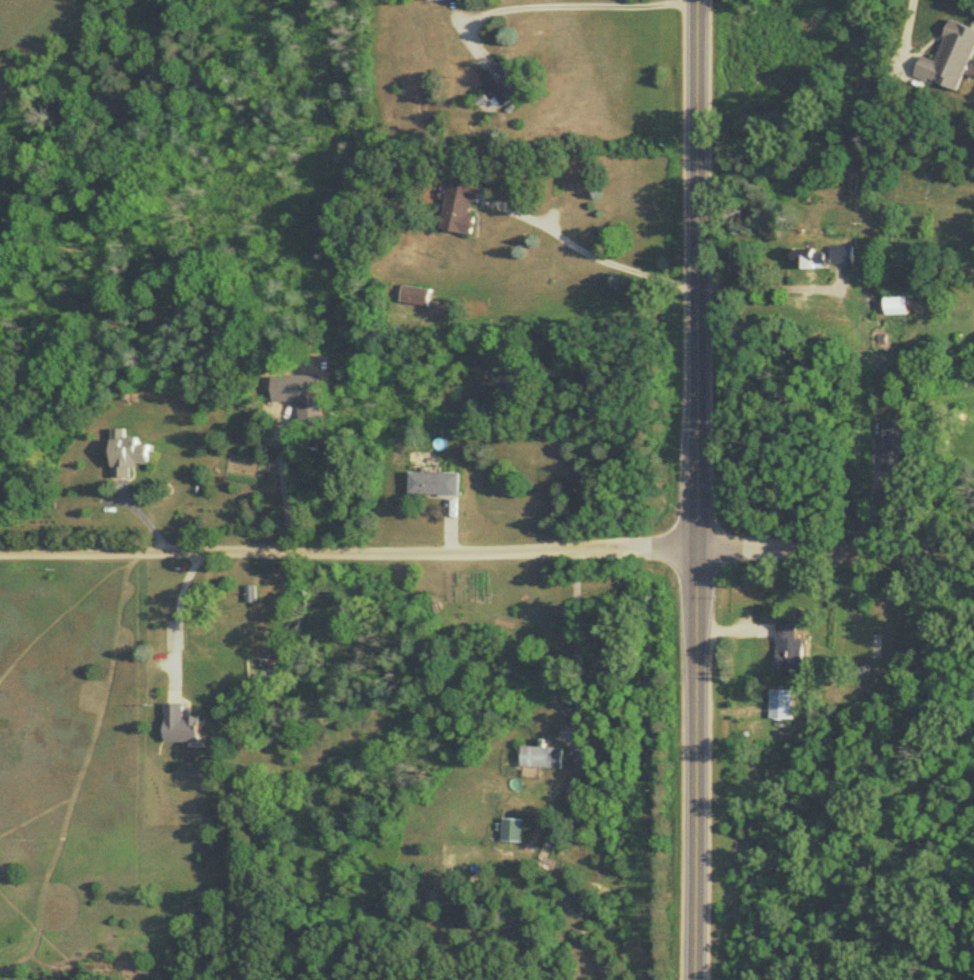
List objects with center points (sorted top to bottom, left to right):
road: (571, 6)
road: (904, 34)
building: (949, 58)
building: (504, 84)
building: (463, 206)
road: (594, 255)
building: (825, 258)
road: (696, 273)
road: (773, 287)
building: (415, 295)
building: (896, 303)
building: (893, 444)
building: (127, 454)
road: (278, 479)
building: (436, 484)
road: (835, 551)
road: (348, 553)
building: (251, 594)
road: (168, 609)
road: (576, 637)
building: (790, 649)
building: (781, 704)
building: (179, 725)
building: (542, 757)
road: (696, 764)

